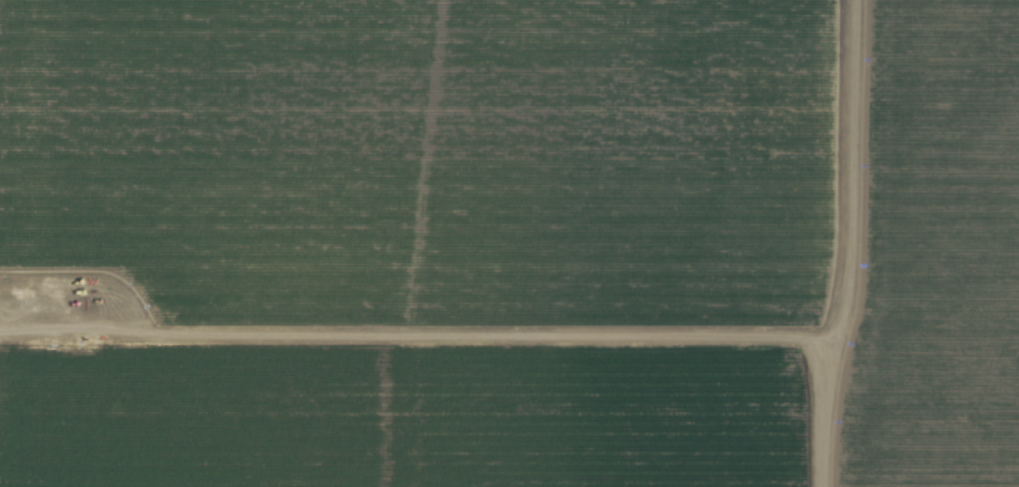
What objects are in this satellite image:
road: (479, 337)

